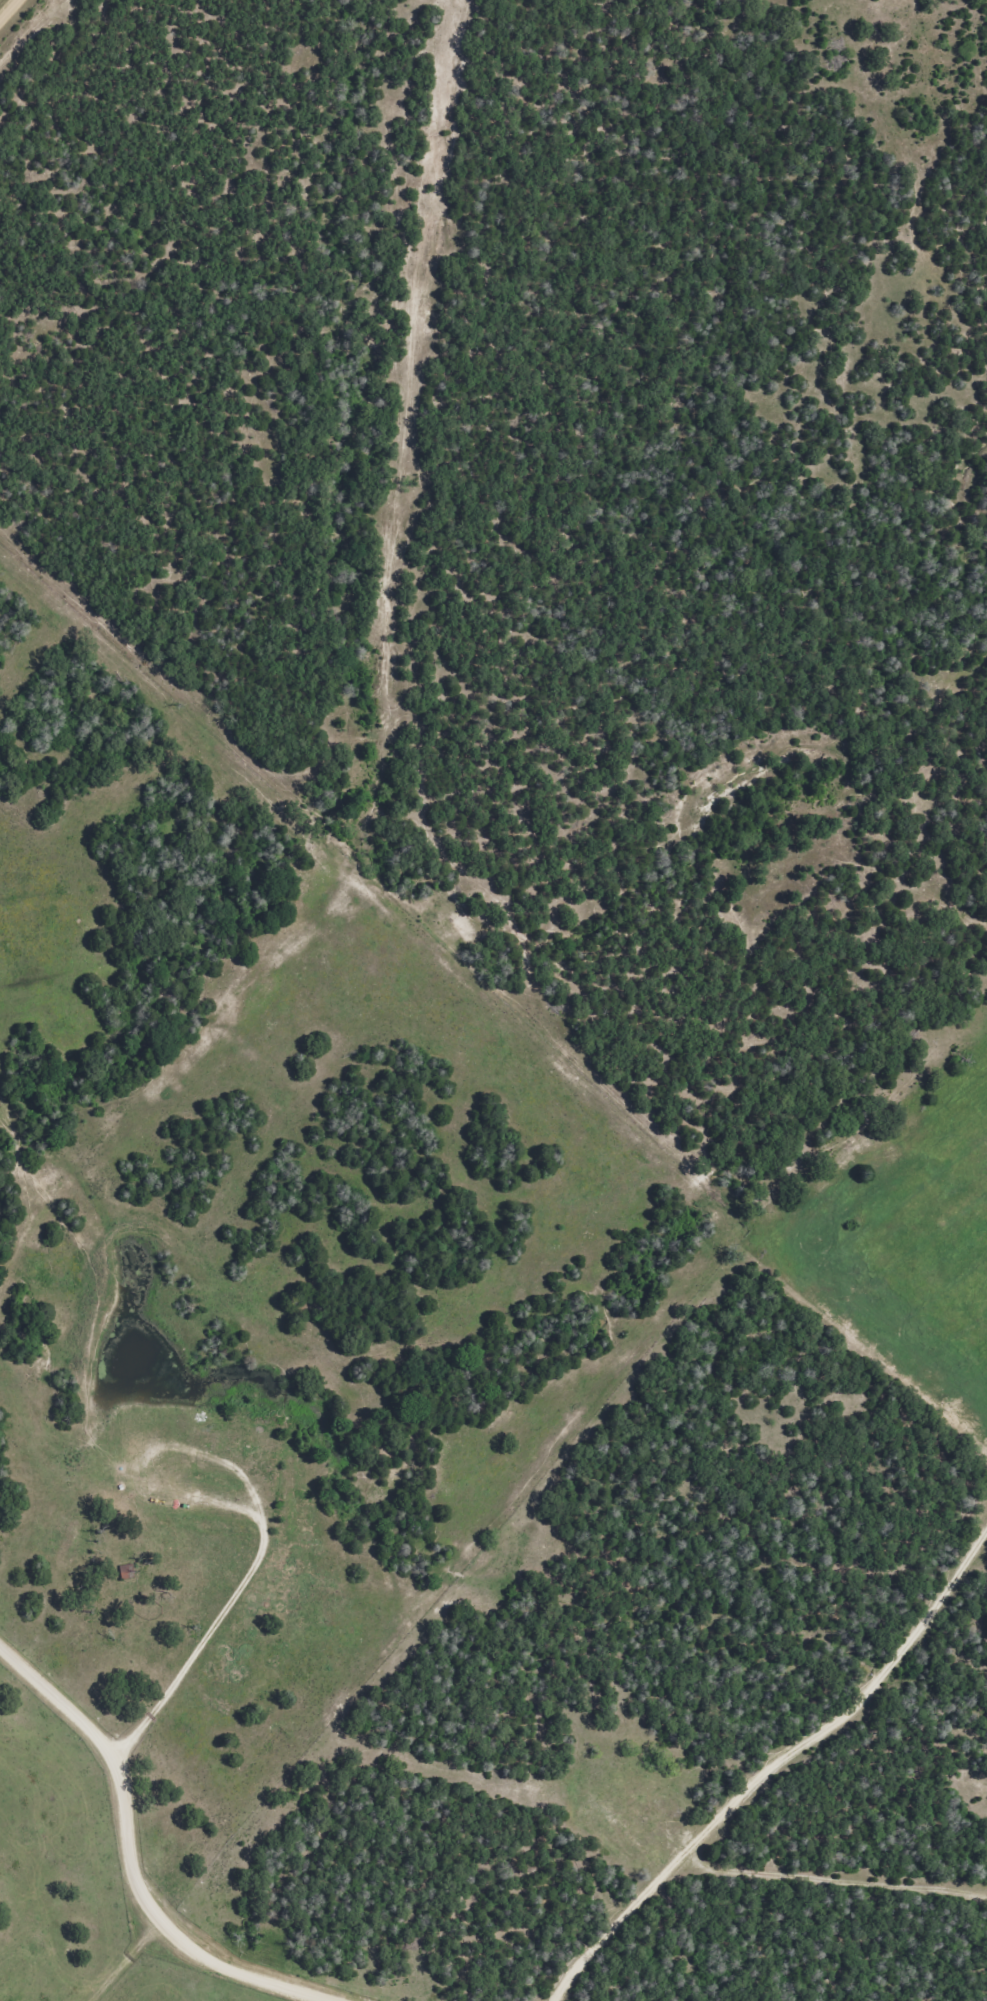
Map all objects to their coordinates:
road: (6, 7)
road: (855, 1706)
road: (128, 1856)
road: (737, 1866)

